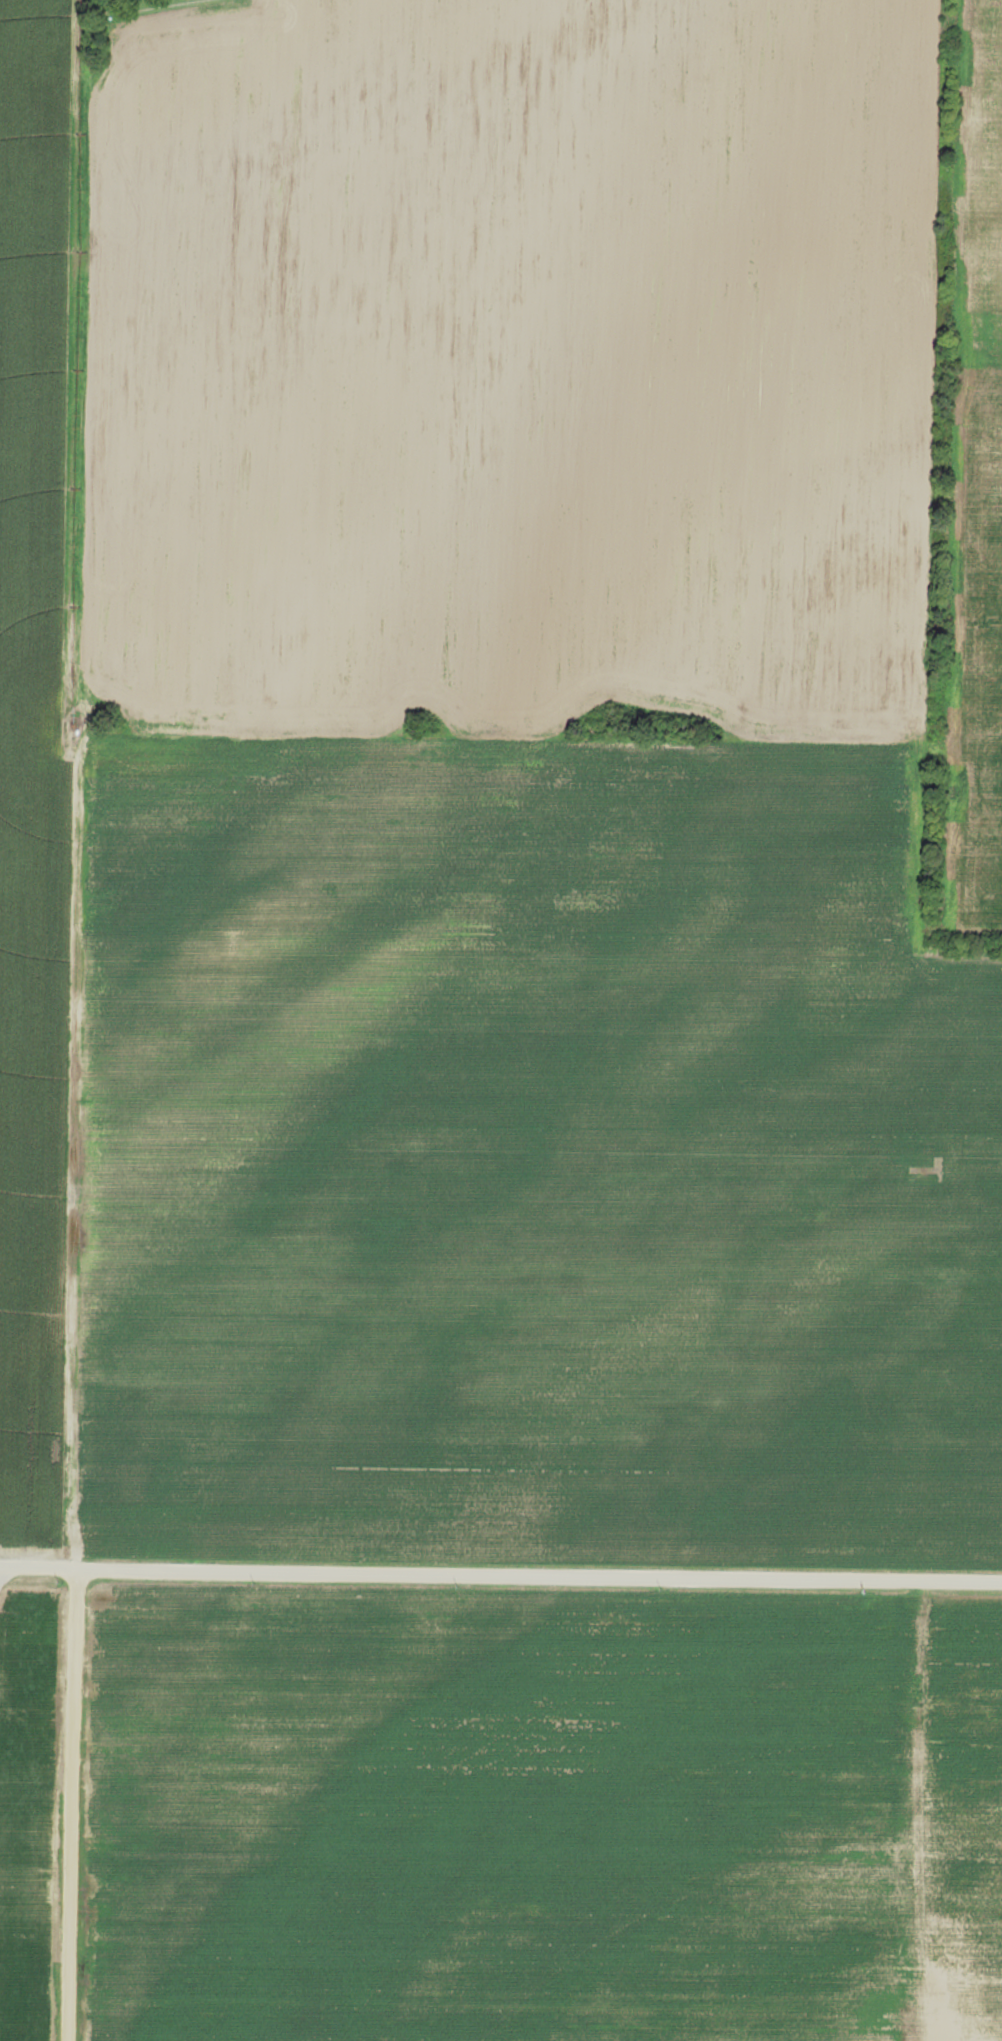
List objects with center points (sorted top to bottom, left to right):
road: (74, 1159)
road: (500, 1573)
road: (0, 1574)
road: (71, 1804)

